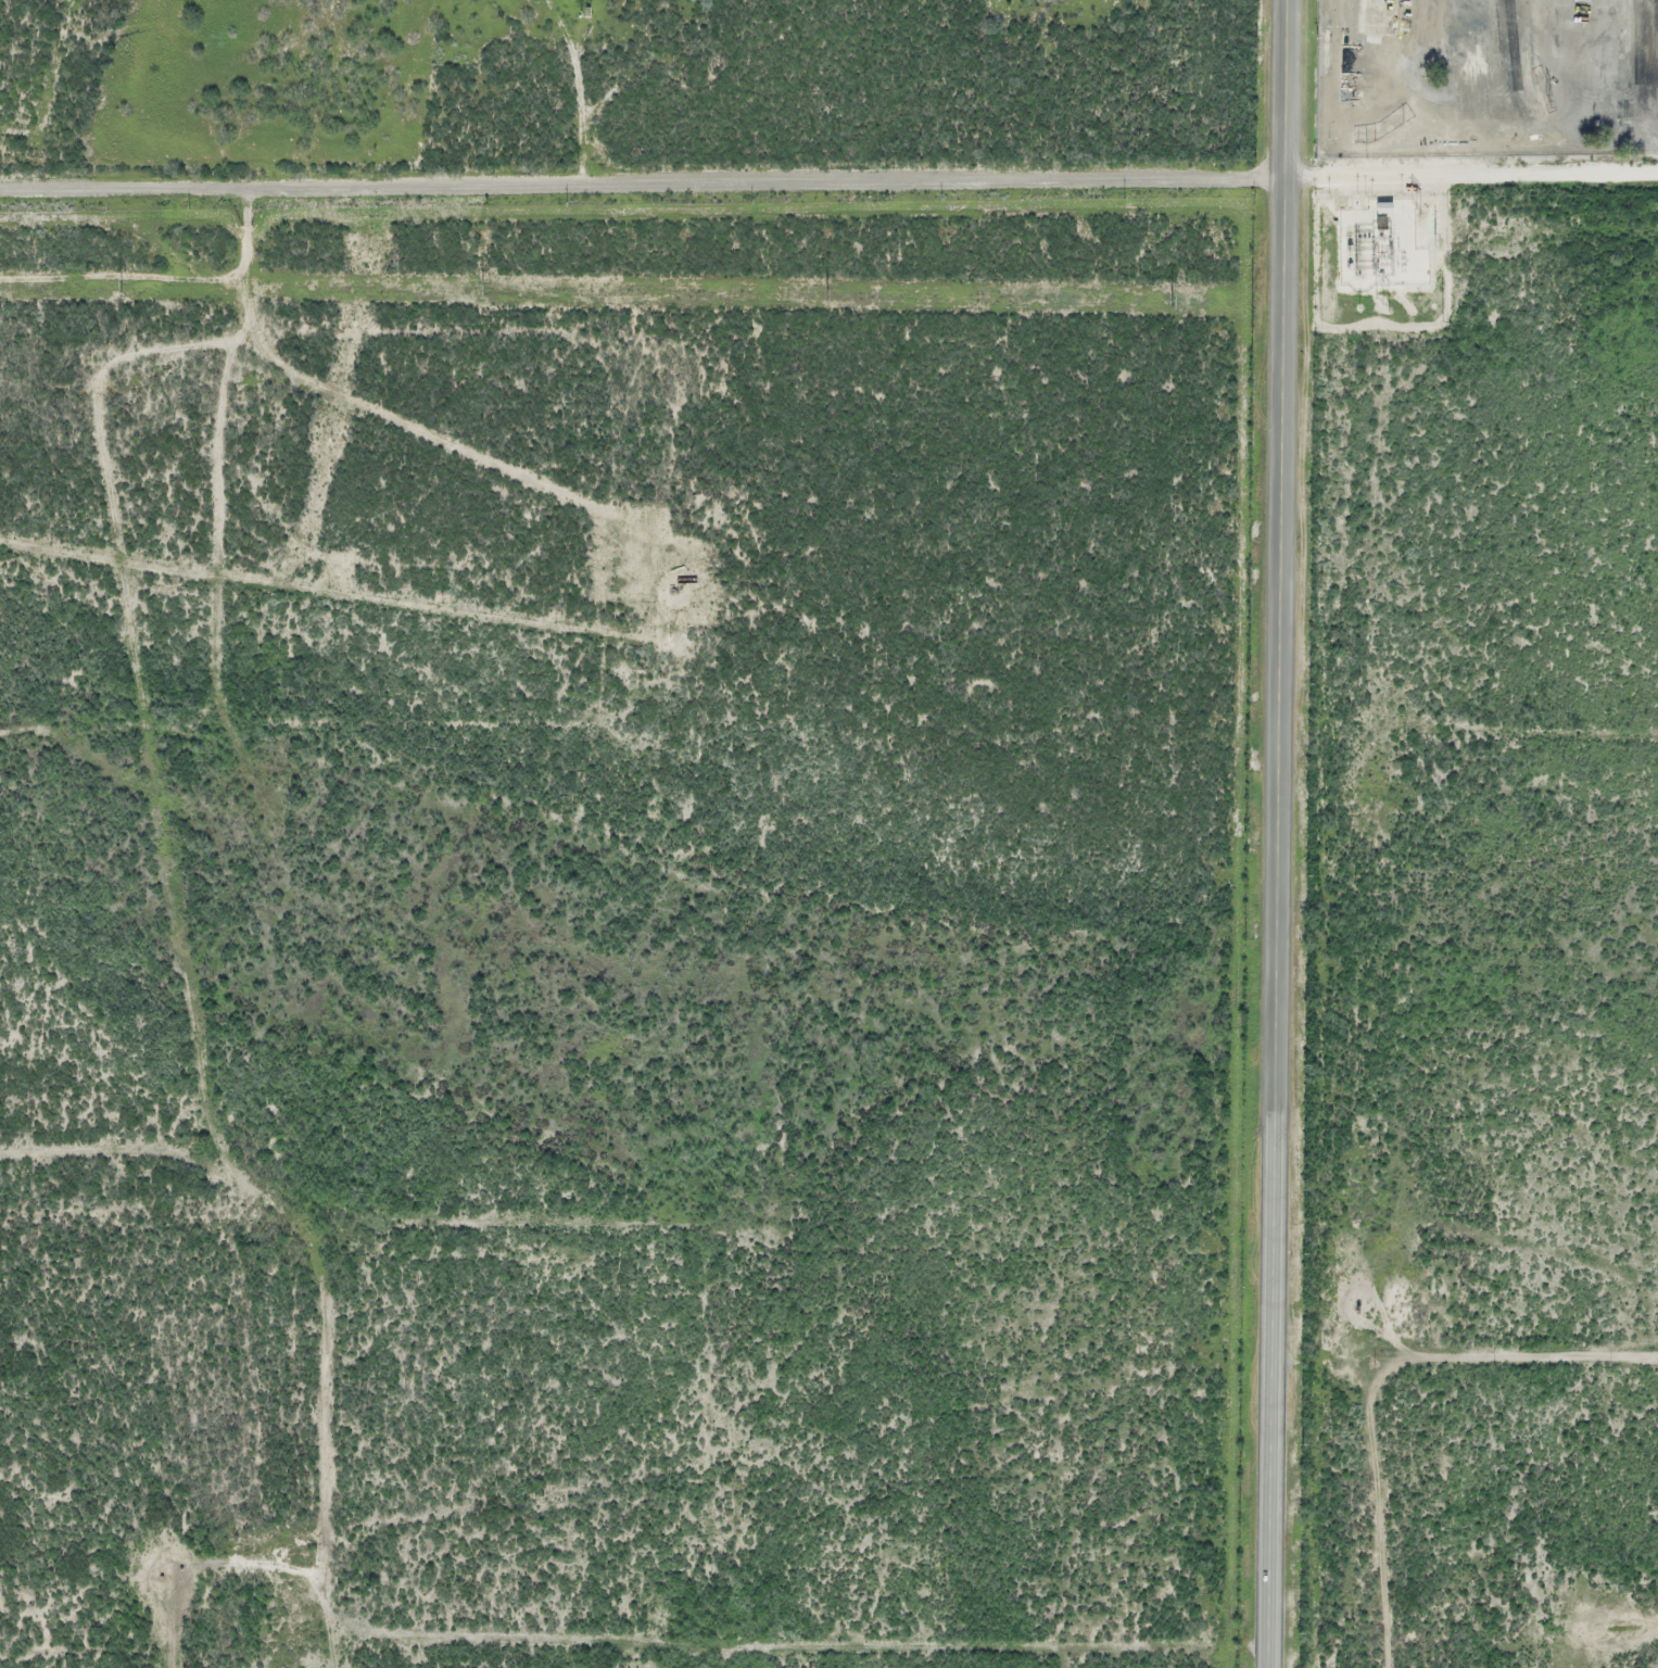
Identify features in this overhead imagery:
power tower: (1548, 102)
road: (1470, 175)
road: (641, 182)
power tower: (1415, 206)
power tower: (1434, 243)
power substation: (1380, 245)
power tower: (122, 287)
power tower: (484, 289)
power tower: (833, 291)
power tower: (1170, 299)
power tower: (1381, 303)
road: (1276, 834)

